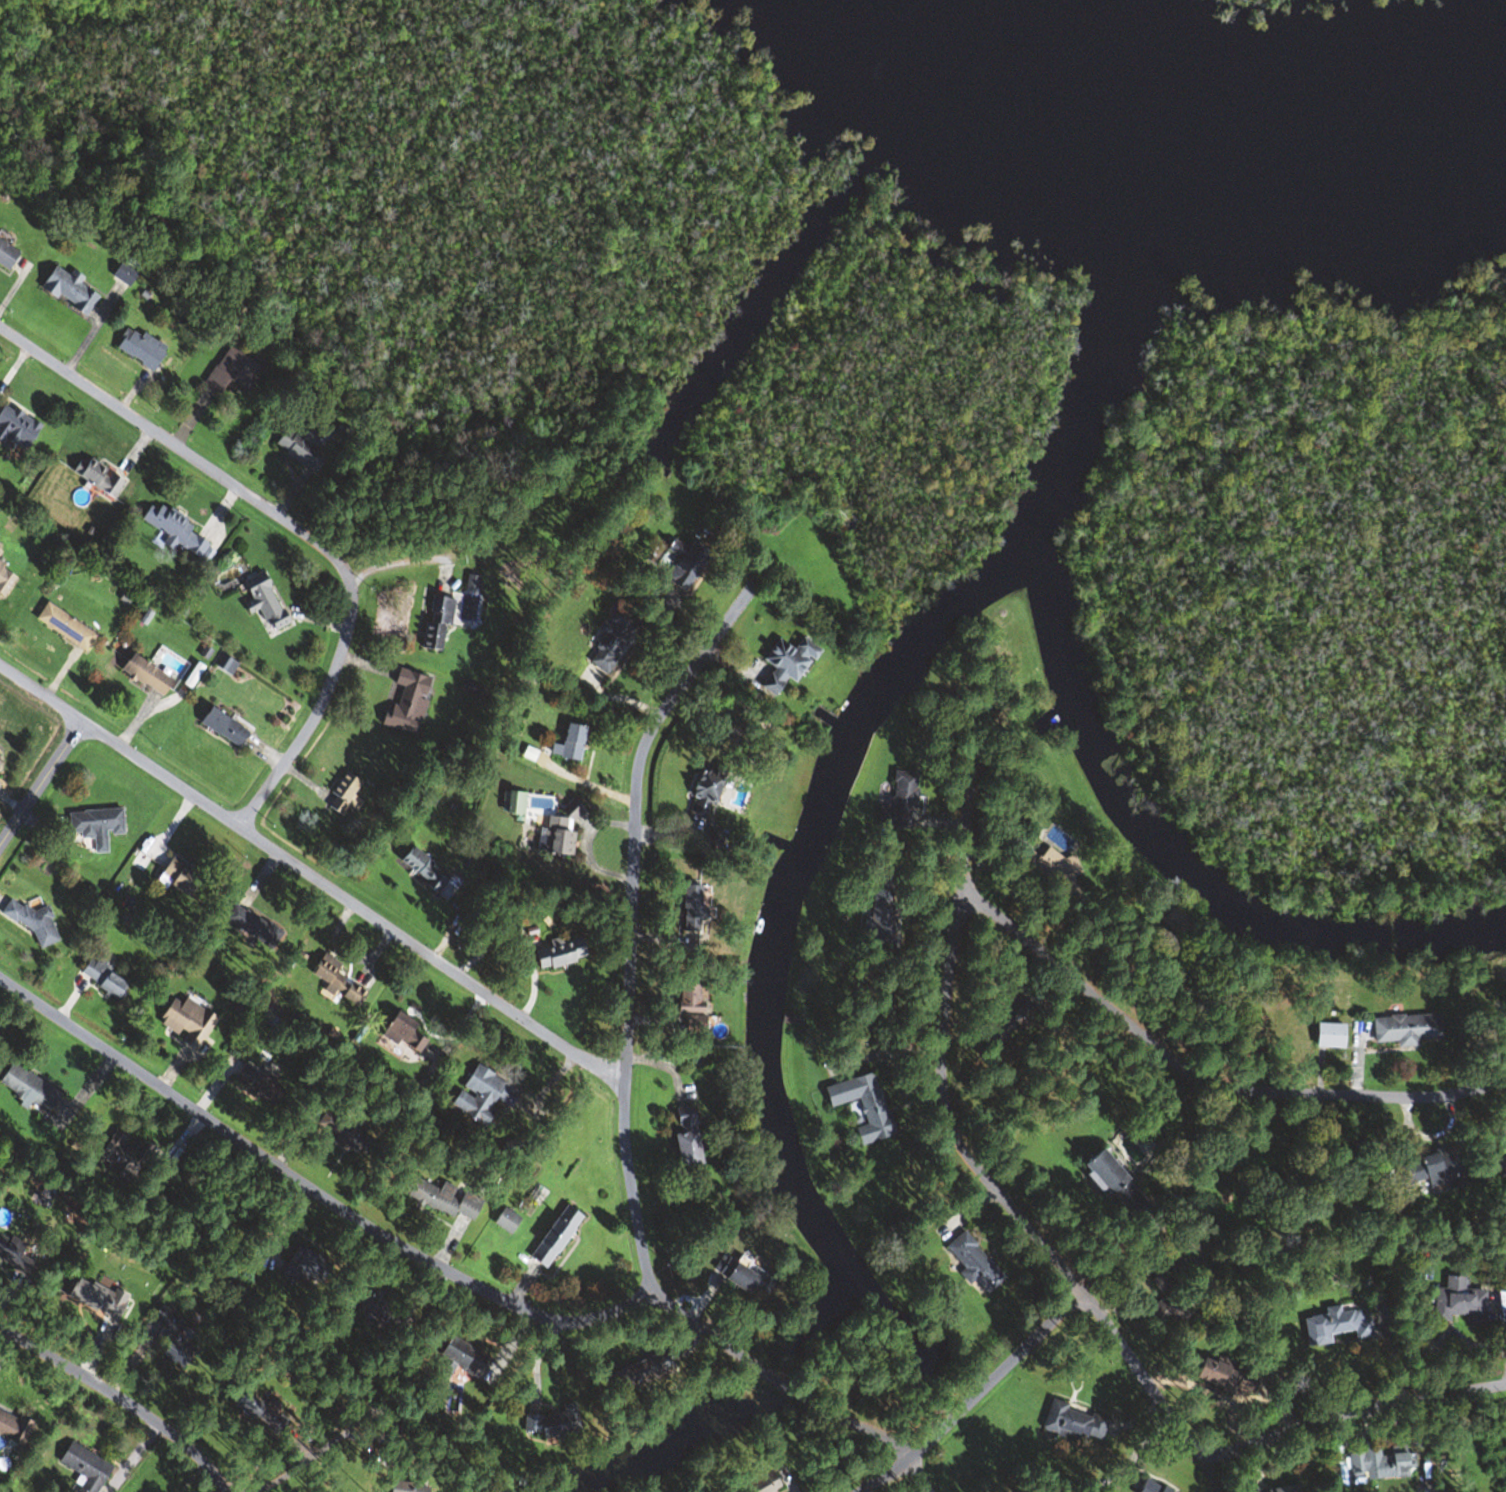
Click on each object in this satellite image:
river: (1192, 177)
building: (5, 256)
building: (65, 290)
building: (136, 348)
building: (230, 372)
building: (14, 428)
building: (298, 447)
building: (94, 477)
road: (290, 525)
building: (171, 530)
road: (396, 563)
building: (682, 566)
building: (4, 580)
building: (262, 603)
building: (435, 620)
building: (61, 627)
building: (609, 638)
building: (782, 663)
building: (142, 675)
building: (405, 703)
building: (220, 727)
building: (567, 744)
road: (43, 779)
building: (699, 793)
building: (342, 796)
building: (898, 801)
building: (542, 823)
building: (93, 826)
road: (312, 868)
building: (419, 870)
building: (1049, 872)
building: (171, 878)
building: (688, 904)
building: (880, 919)
building: (251, 927)
building: (556, 953)
building: (101, 978)
building: (332, 980)
building: (686, 1008)
building: (788, 1018)
building: (182, 1022)
building: (1403, 1029)
building: (400, 1033)
building: (1326, 1036)
road: (1197, 1079)
building: (255, 1084)
building: (26, 1089)
road: (624, 1093)
building: (480, 1095)
building: (860, 1106)
building: (341, 1130)
building: (682, 1139)
building: (123, 1156)
building: (1499, 1166)
building: (1431, 1170)
building: (1109, 1183)
road: (315, 1193)
building: (438, 1197)
building: (504, 1221)
building: (550, 1237)
building: (8, 1249)
road: (1058, 1261)
building: (971, 1263)
building: (297, 1267)
building: (746, 1276)
building: (93, 1297)
building: (1166, 1302)
building: (1456, 1302)
building: (367, 1306)
building: (394, 1323)
building: (1333, 1326)
building: (169, 1338)
building: (455, 1360)
building: (638, 1373)
building: (1220, 1375)
road: (975, 1398)
road: (116, 1406)
building: (251, 1406)
building: (1072, 1423)
building: (552, 1424)
building: (13, 1430)
road: (308, 1458)
building: (1372, 1462)
building: (82, 1466)
building: (759, 1484)
building: (1147, 1486)
building: (405, 1487)
building: (1269, 1489)

